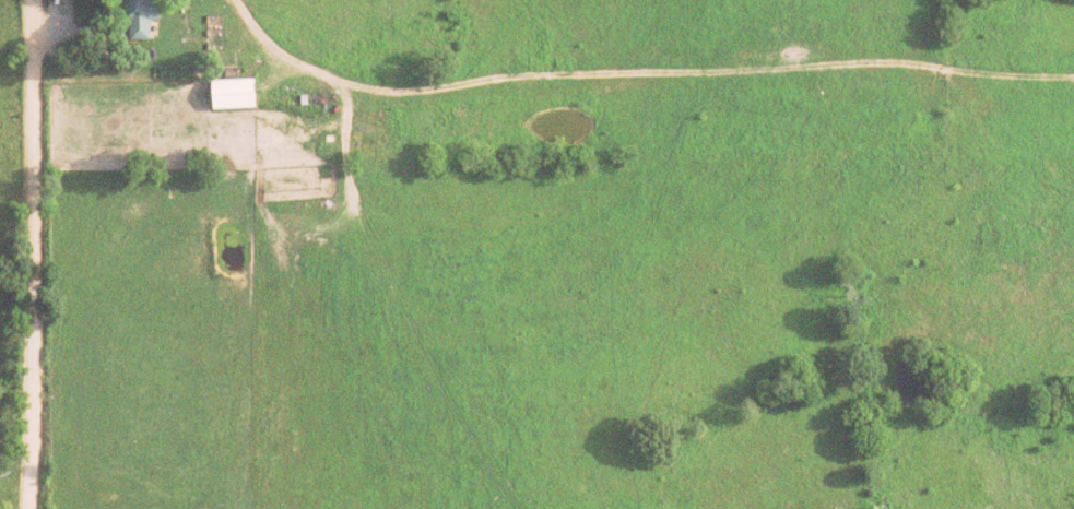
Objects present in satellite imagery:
building: (133, 20)
building: (224, 98)
building: (272, 130)
road: (32, 254)

